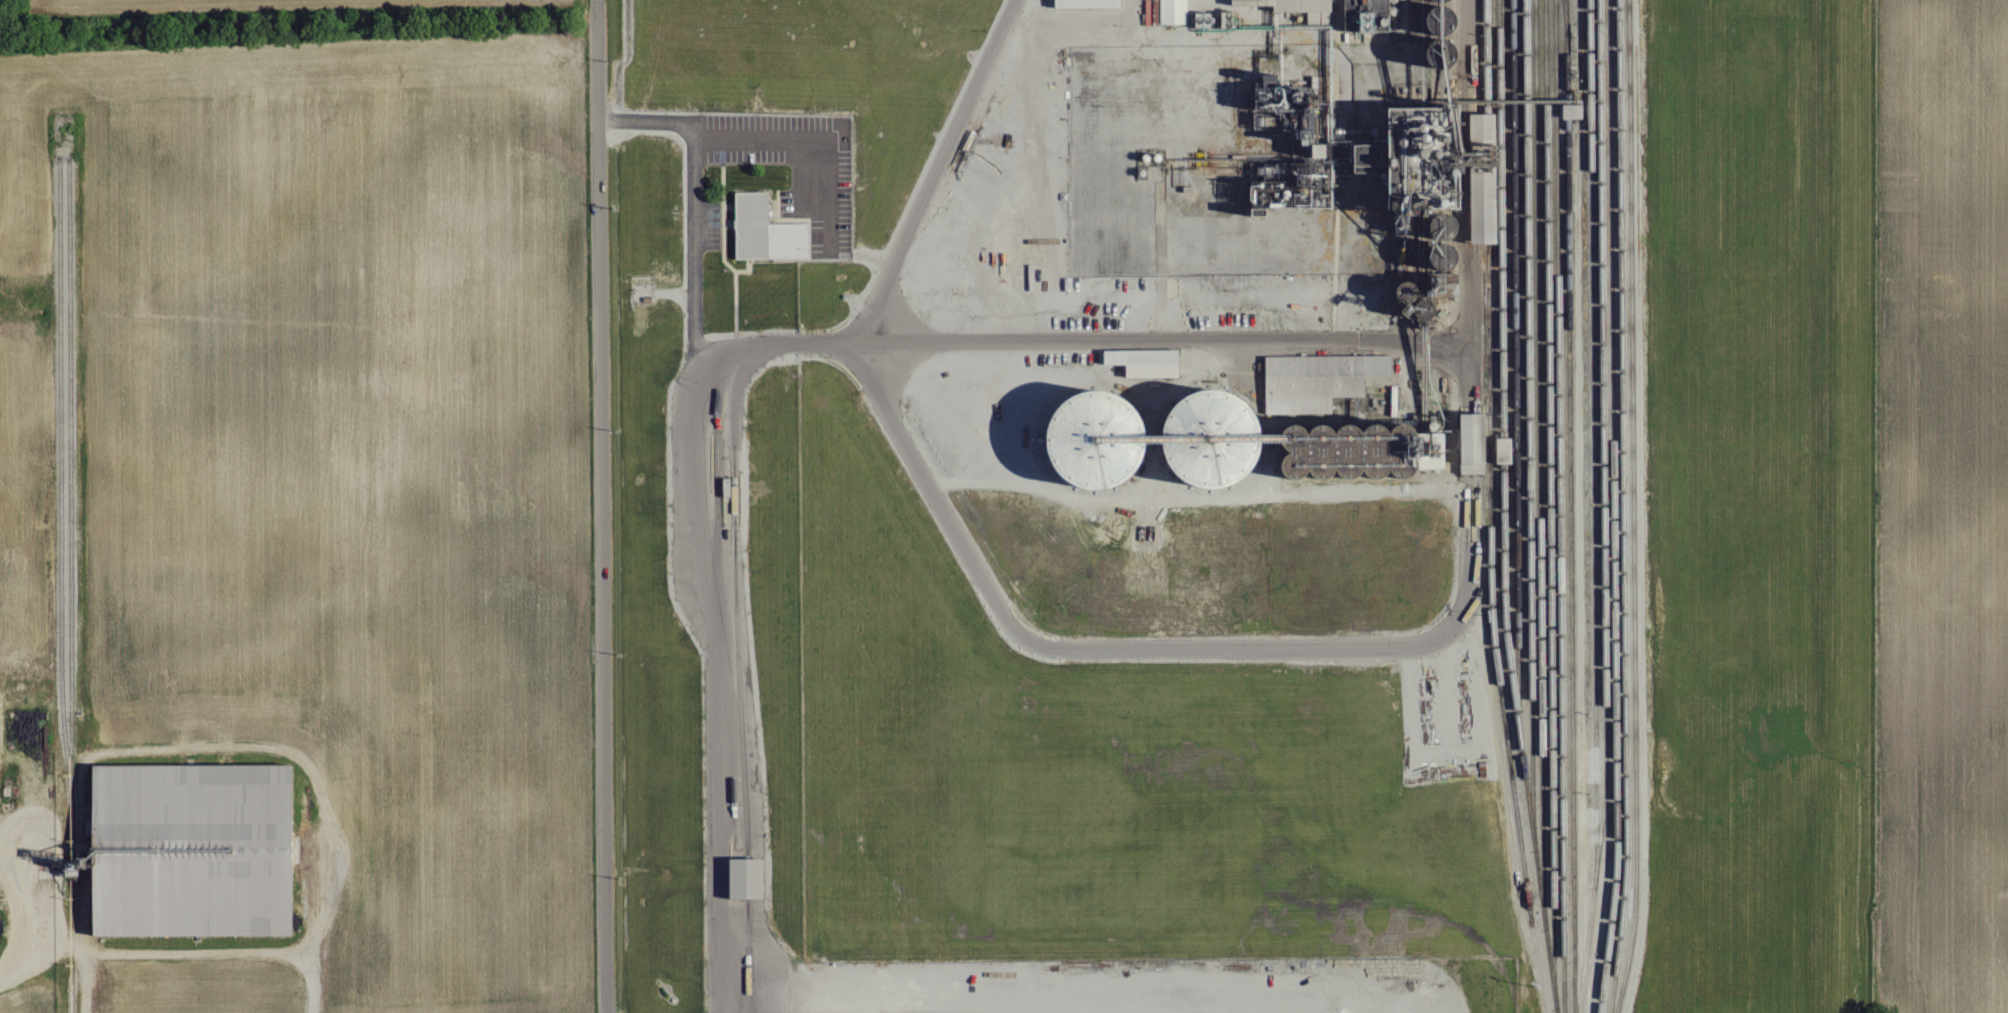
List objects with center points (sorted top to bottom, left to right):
silo: (1438, 0)
building: (1086, 3)
building: (1290, 4)
building: (1171, 11)
building: (1367, 14)
silo: (1437, 19)
silo: (1438, 52)
road: (1470, 56)
road: (641, 120)
road: (693, 142)
building: (1392, 160)
building: (1479, 177)
parking lot: (820, 178)
road: (693, 182)
road: (836, 189)
road: (693, 225)
parking lot: (703, 225)
building: (749, 225)
silo: (1441, 225)
silo: (1440, 255)
silo: (1402, 290)
railway: (1487, 305)
silo: (1421, 309)
railway: (1501, 310)
road: (694, 313)
road: (1472, 327)
road: (766, 346)
building: (1150, 362)
railway: (1515, 366)
building: (1323, 380)
railway: (1601, 392)
railway: (1528, 413)
railway: (1591, 434)
building: (1094, 436)
building: (1292, 440)
building: (1469, 443)
building: (1500, 449)
railway: (1538, 454)
railway: (60, 490)
railway: (70, 490)
railway: (1548, 494)
road: (601, 506)
railway: (1559, 506)
railway: (1570, 506)
road: (980, 575)
railway: (1522, 758)
railway: (1510, 767)
building: (191, 850)
building: (740, 879)
railway: (1591, 898)
railway: (71, 917)
road: (69, 950)
road: (222, 956)

